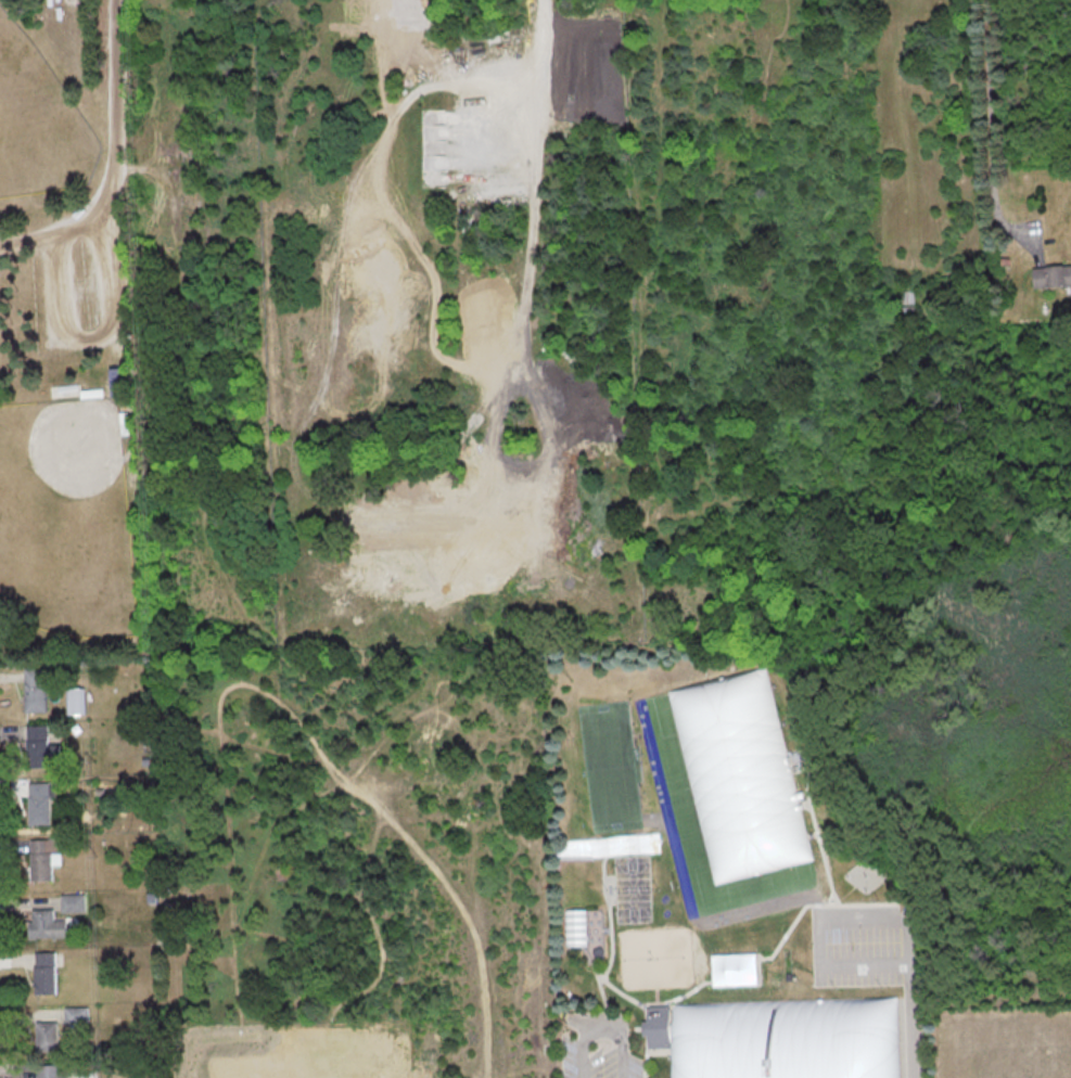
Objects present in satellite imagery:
road: (541, 28)
road: (989, 123)
park: (40, 127)
road: (117, 159)
building: (1051, 275)
parking lot: (85, 287)
park: (131, 334)
road: (102, 335)
building: (118, 382)
park: (62, 523)
building: (35, 690)
building: (74, 702)
building: (40, 747)
park: (611, 765)
building: (737, 775)
park: (735, 787)
building: (38, 803)
road: (825, 868)
park: (628, 888)
building: (73, 901)
building: (47, 922)
road: (829, 944)
park: (652, 955)
building: (43, 972)
road: (596, 976)
road: (594, 978)
road: (670, 1000)
road: (909, 1001)
building: (55, 1024)
road: (600, 1026)
road: (642, 1040)
park: (785, 1040)
building: (50, 1070)

